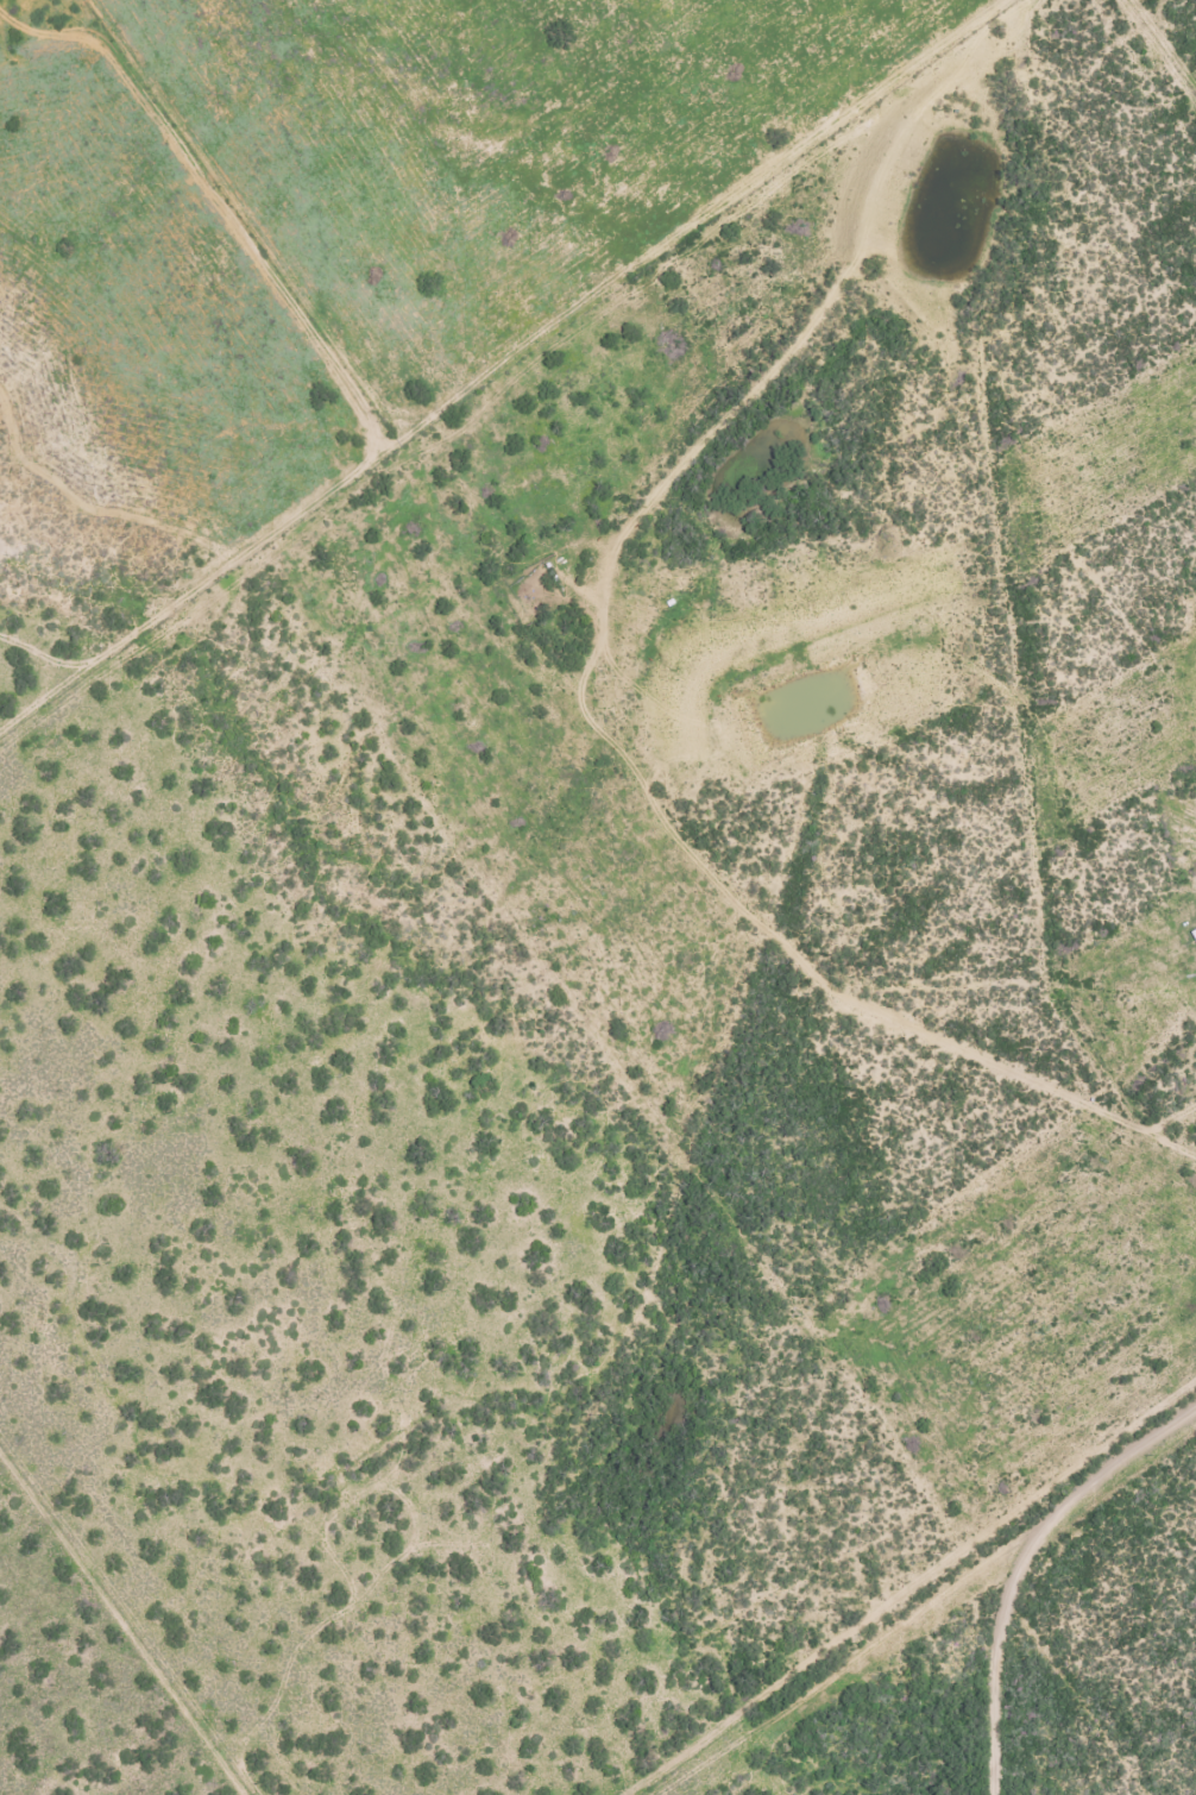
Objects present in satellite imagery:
road: (844, 969)
road: (1125, 1667)

